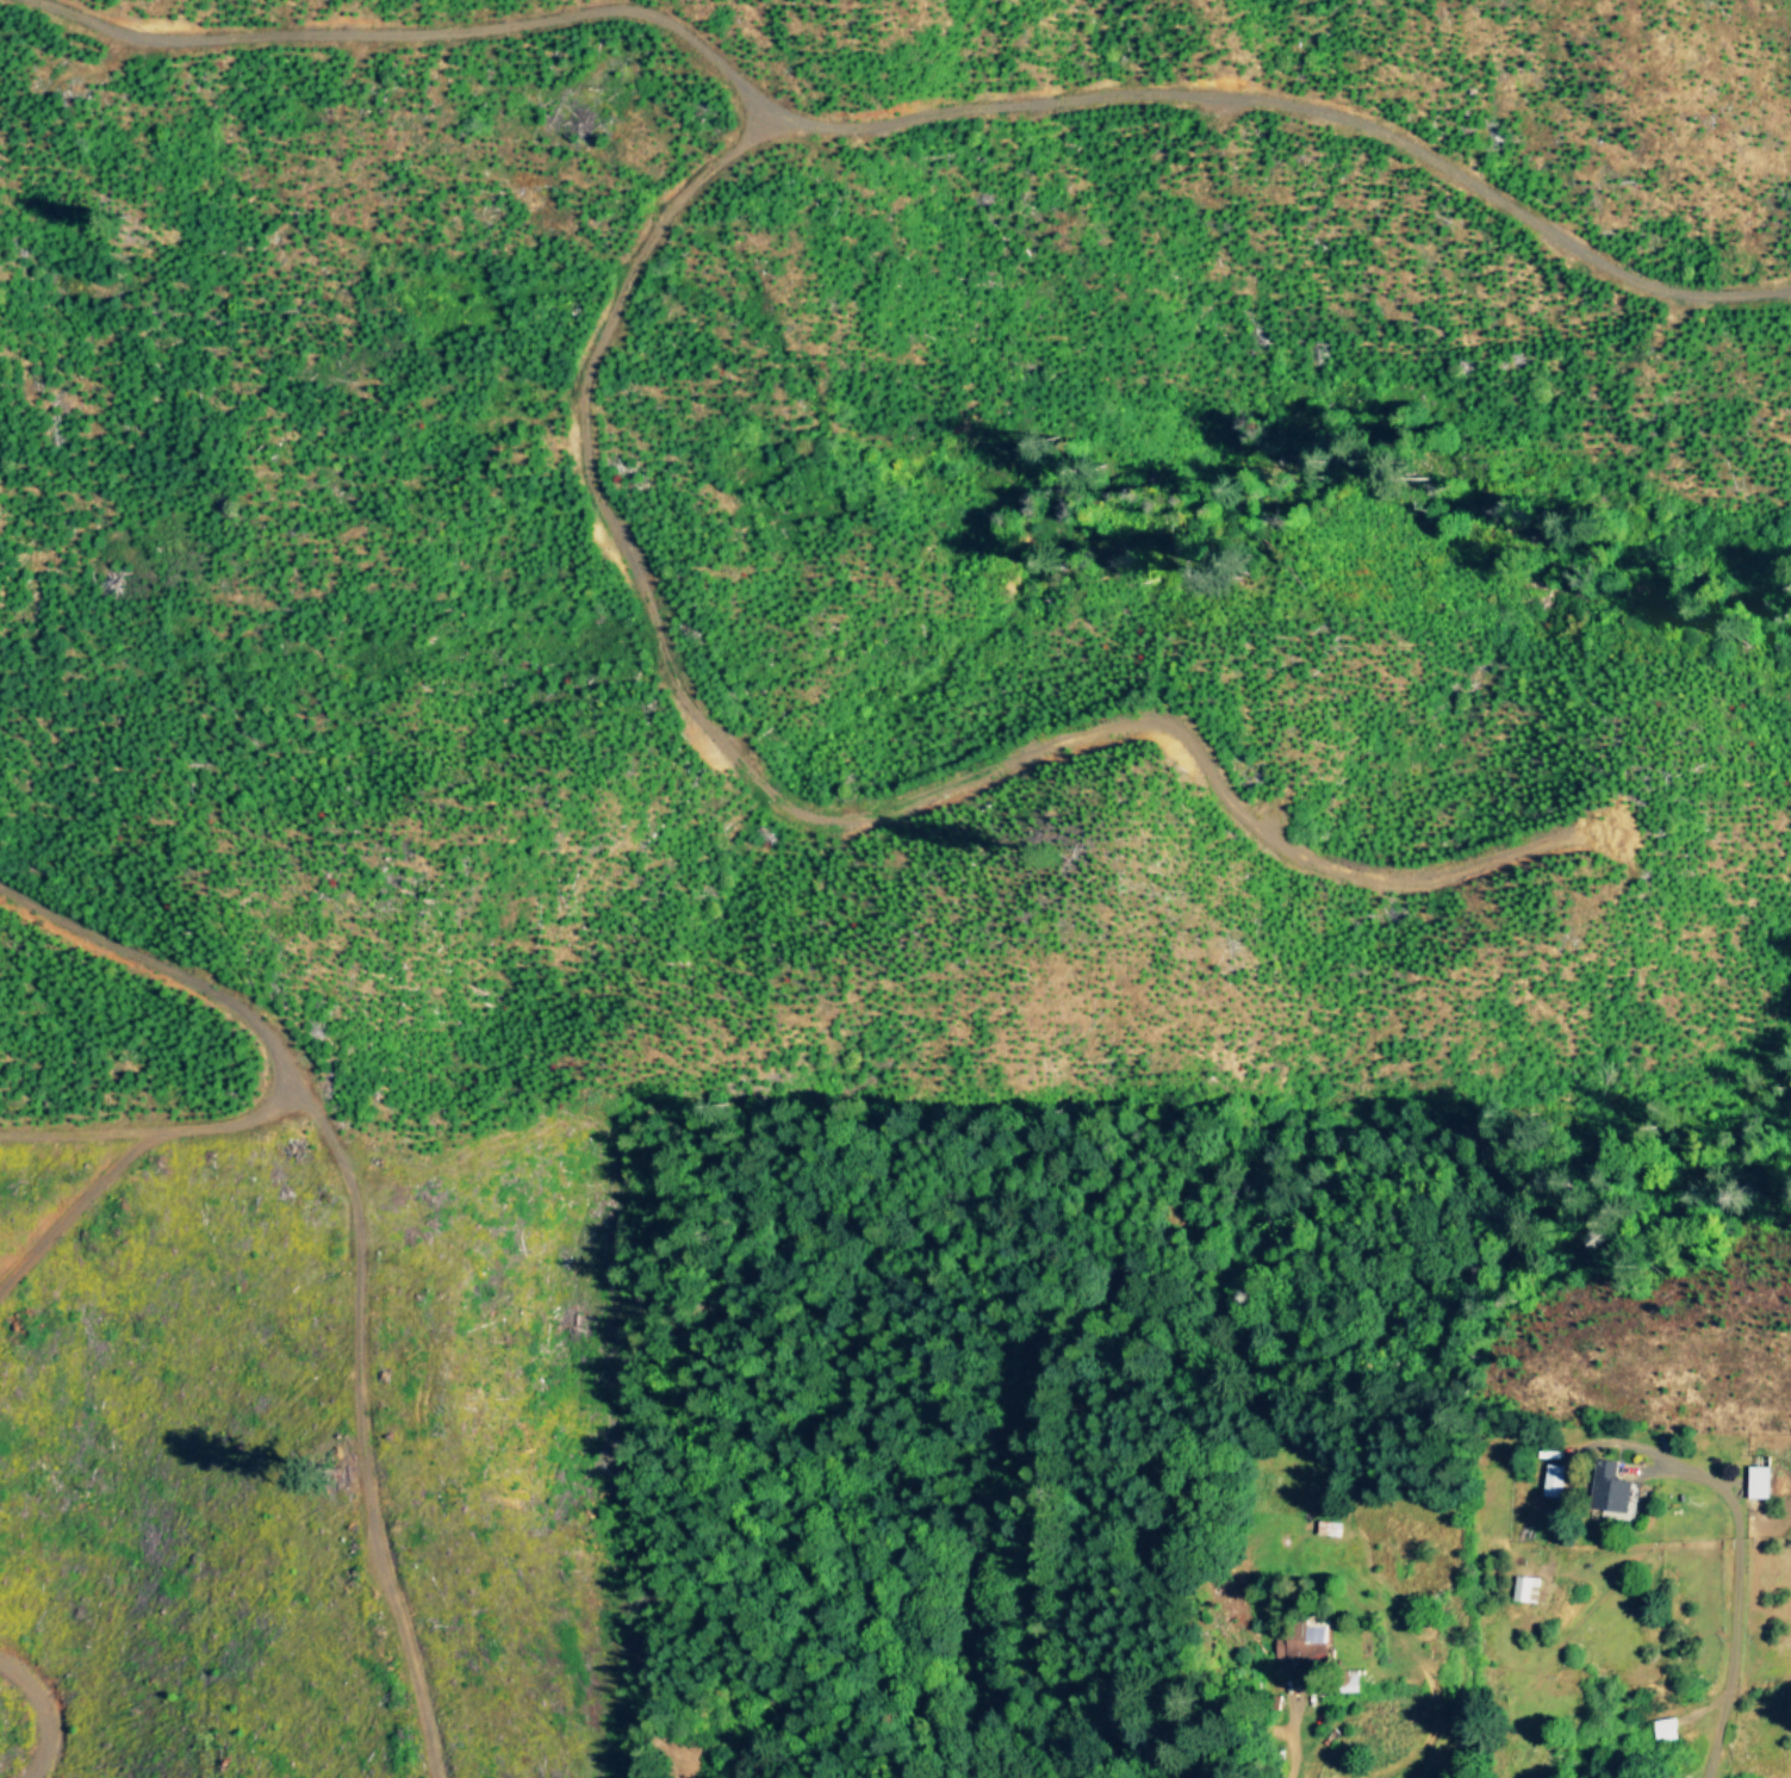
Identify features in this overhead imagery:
building: (1553, 1479)
building: (1761, 1480)
building: (1616, 1486)
building: (1526, 1587)
road: (1735, 1591)
building: (1306, 1641)
building: (1666, 1727)
road: (1289, 1735)

